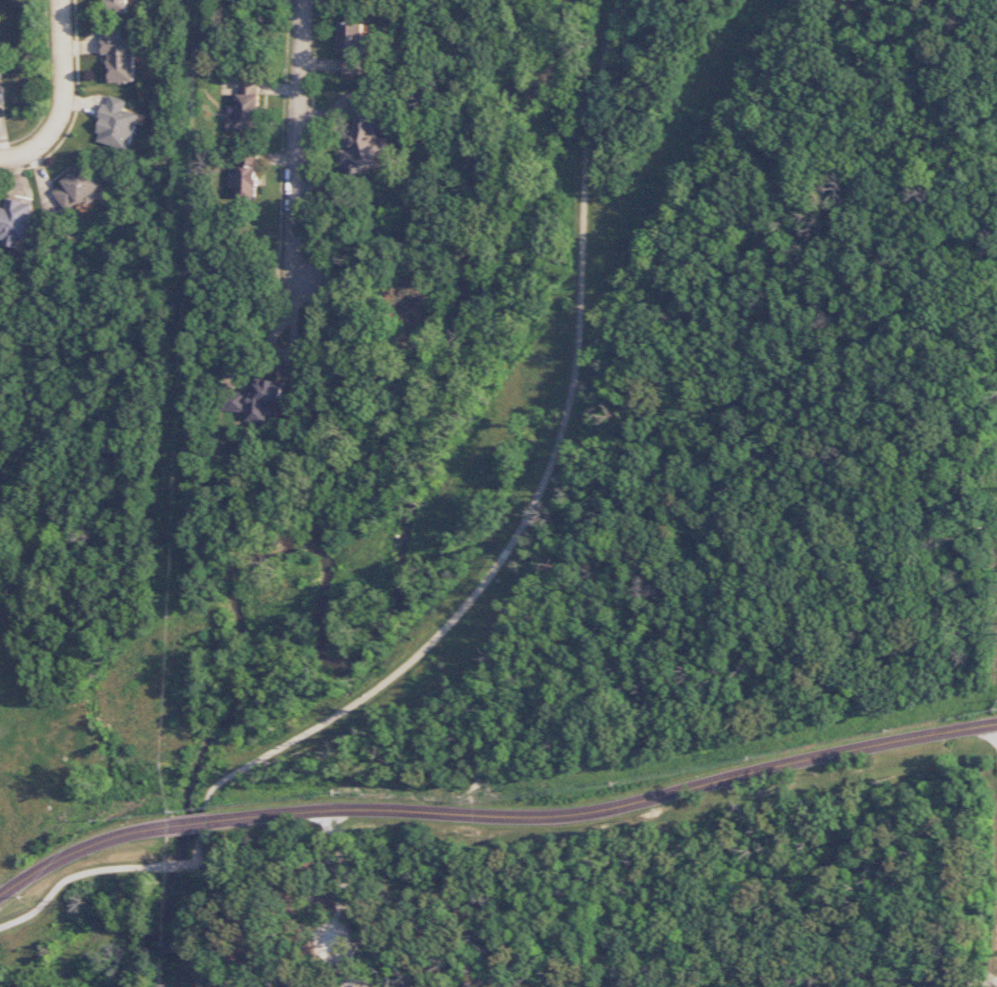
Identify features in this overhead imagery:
building: (116, 6)
building: (351, 47)
building: (117, 55)
building: (0, 71)
building: (1, 95)
road: (64, 97)
building: (247, 104)
building: (116, 123)
building: (365, 139)
road: (294, 140)
building: (79, 187)
building: (15, 222)
building: (258, 400)
road: (531, 506)
road: (606, 809)
road: (189, 824)
road: (80, 847)
road: (174, 866)
road: (71, 878)
road: (334, 916)
road: (995, 950)
road: (349, 970)

